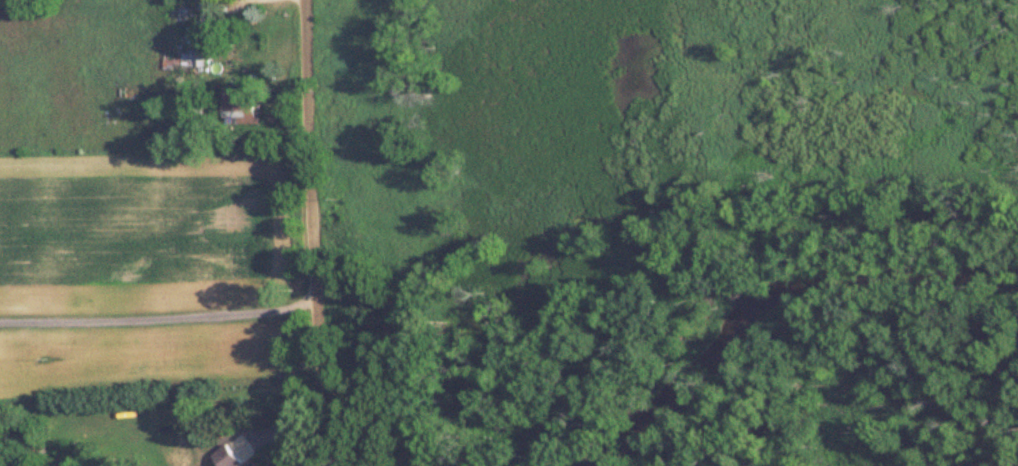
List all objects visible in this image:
building: (177, 36)
building: (240, 104)
road: (316, 182)
river: (770, 291)
building: (6, 296)
road: (161, 318)
road: (300, 413)
building: (223, 457)

